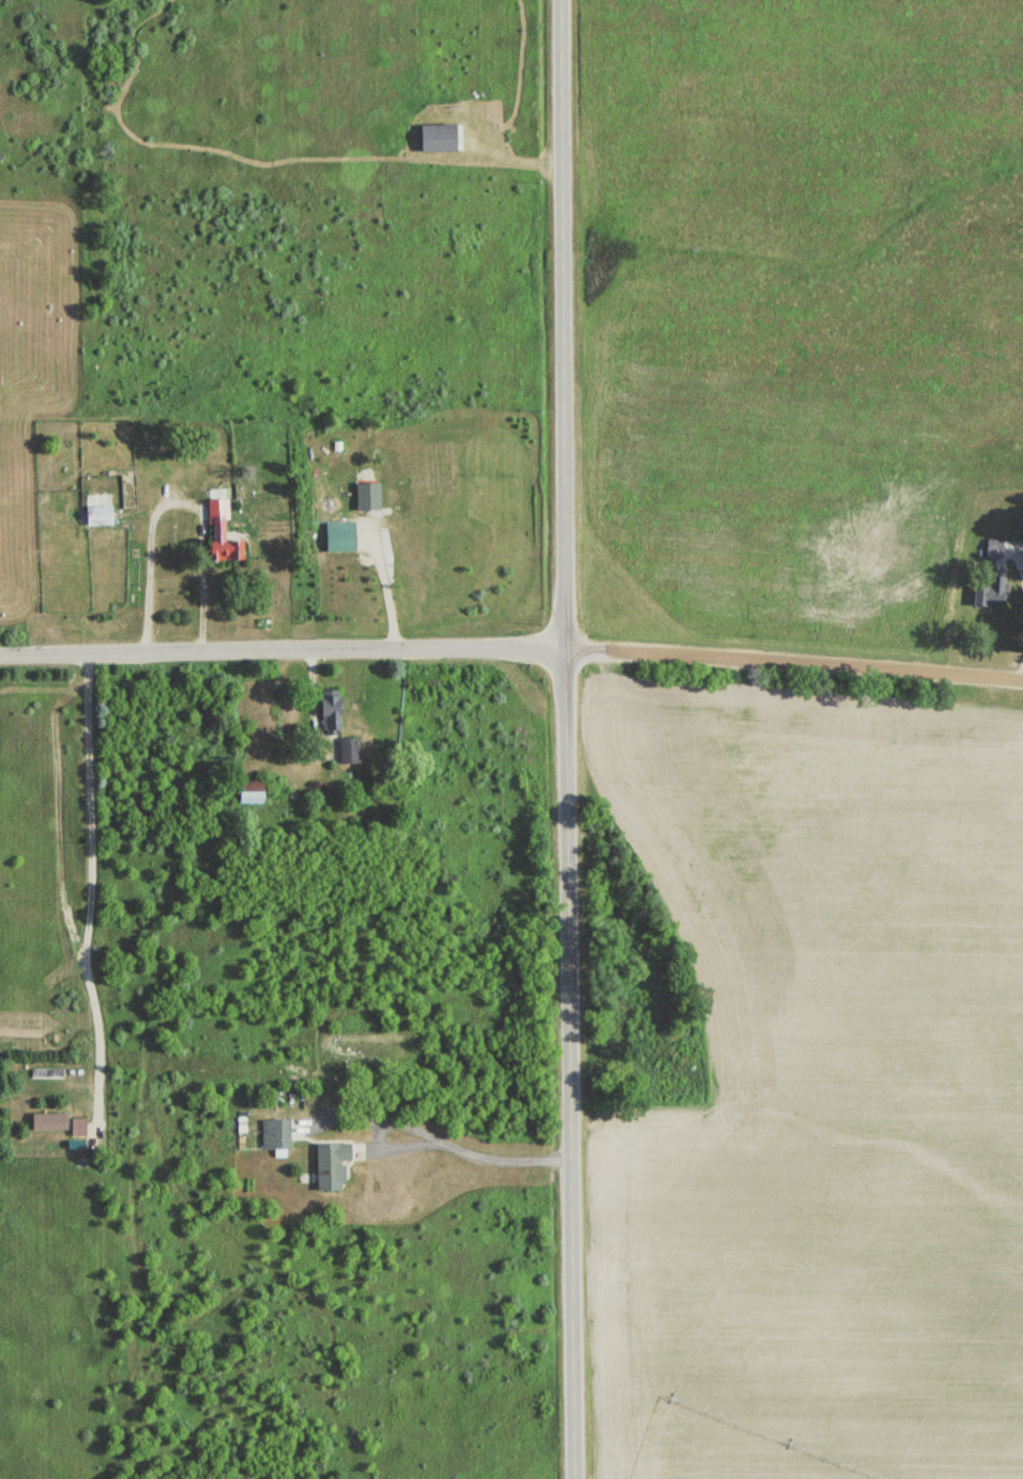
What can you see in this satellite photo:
building: (442, 135)
road: (562, 325)
building: (365, 498)
building: (95, 517)
building: (219, 536)
building: (993, 549)
road: (381, 585)
building: (993, 590)
road: (282, 652)
road: (794, 667)
building: (327, 714)
building: (347, 752)
building: (241, 798)
road: (91, 887)
road: (570, 1065)
building: (47, 1123)
building: (275, 1136)
road: (463, 1147)
building: (329, 1167)

